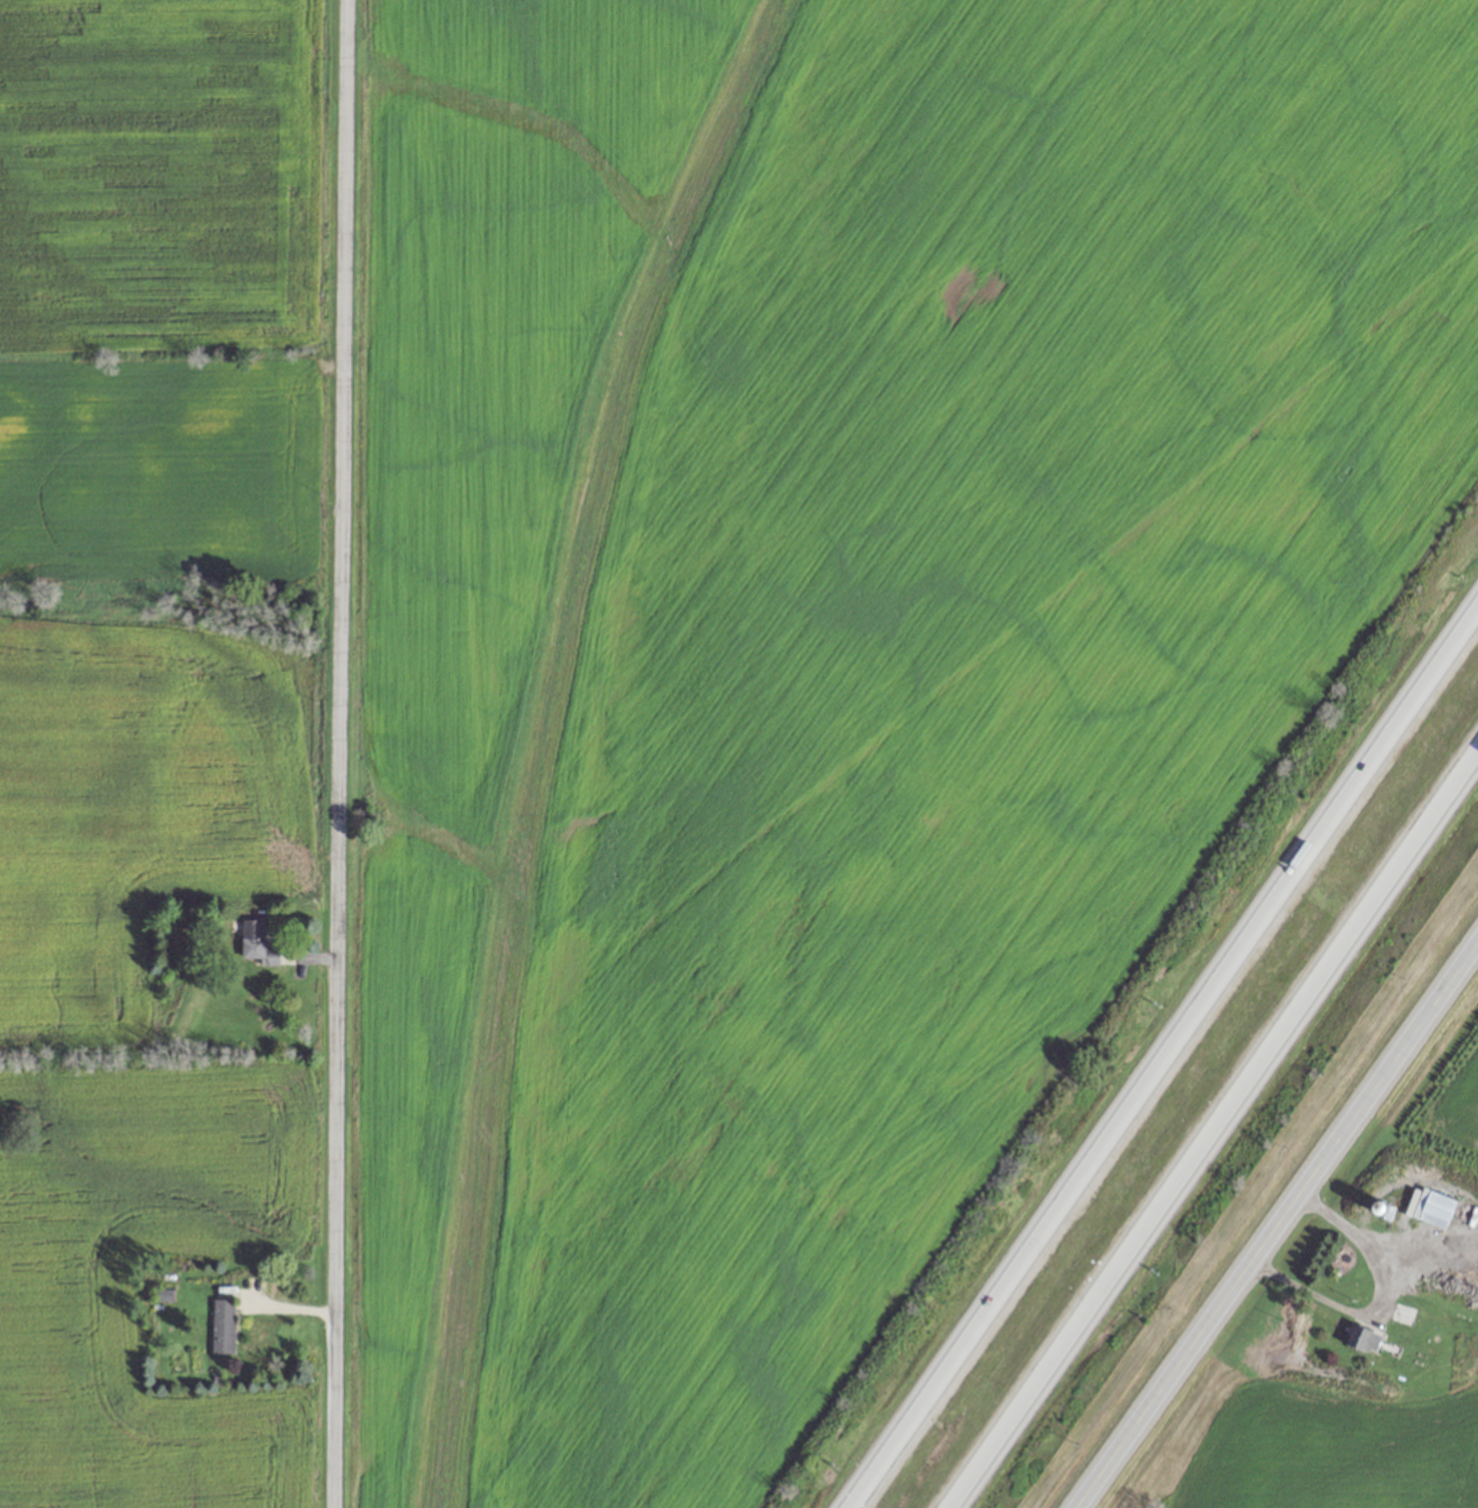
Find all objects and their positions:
building: (816, 323)
crop: (821, 642)
crop: (157, 702)
road: (339, 754)
building: (257, 944)
road: (1155, 1045)
road: (1221, 1143)
building: (1437, 1209)
road: (1278, 1230)
road: (1381, 1298)
building: (1401, 1314)
building: (223, 1326)
building: (1365, 1339)

